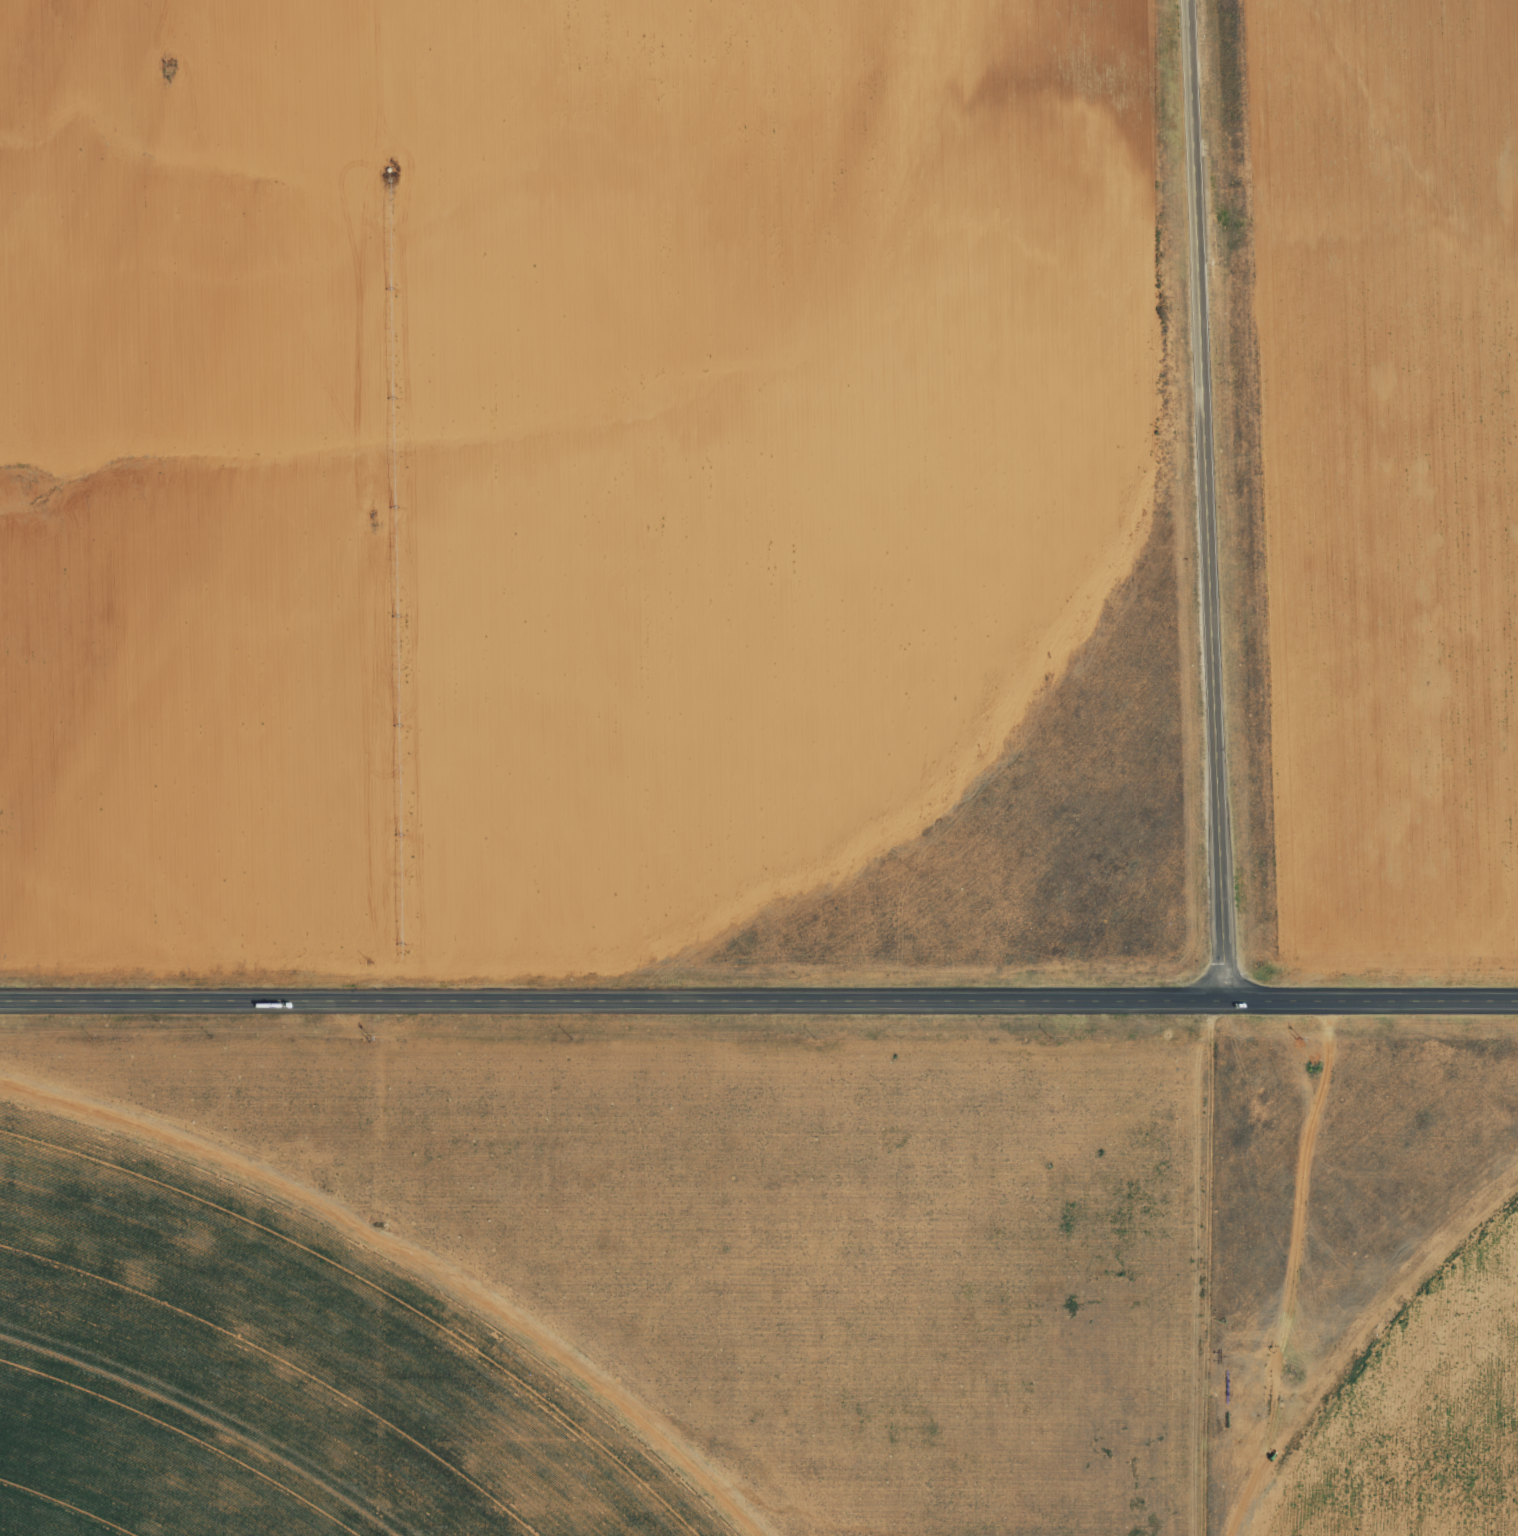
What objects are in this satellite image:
road: (1203, 500)
road: (758, 1002)
road: (1220, 1268)

